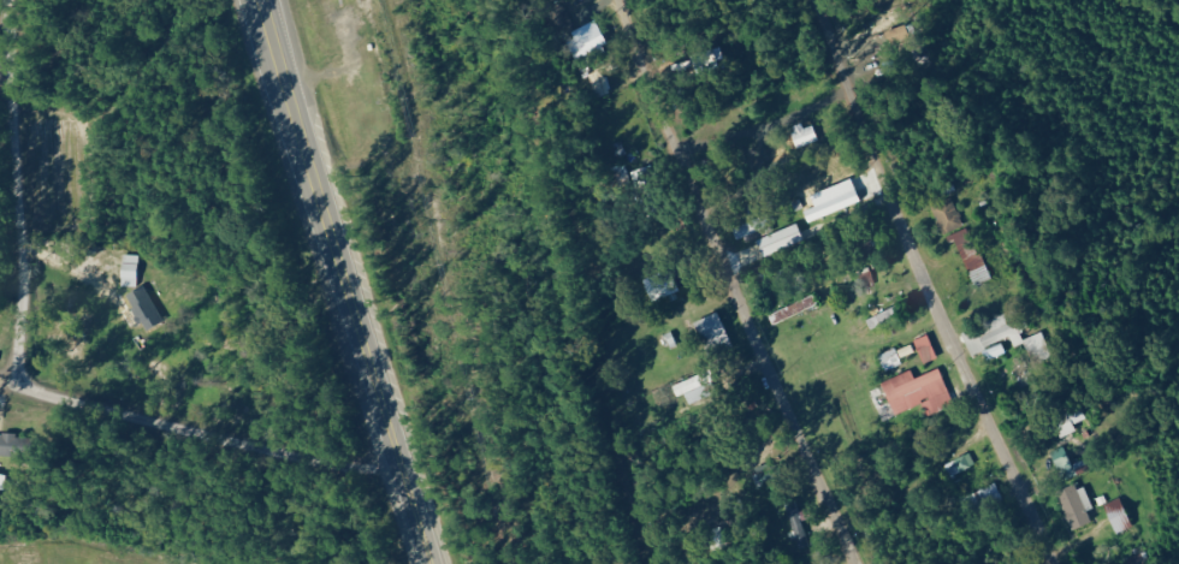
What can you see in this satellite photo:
building: (710, 60)
building: (603, 84)
building: (806, 135)
building: (949, 216)
building: (754, 227)
building: (784, 239)
building: (972, 257)
road: (543, 278)
road: (344, 281)
road: (707, 281)
road: (896, 283)
building: (664, 285)
building: (147, 309)
building: (883, 310)
building: (717, 334)
building: (1008, 337)
building: (928, 350)
building: (908, 351)
building: (891, 360)
building: (695, 384)
building: (920, 392)
building: (1064, 425)
road: (173, 428)
building: (11, 445)
building: (961, 464)
building: (1065, 464)
building: (1085, 467)
building: (4, 481)
building: (1079, 506)
building: (1120, 516)

